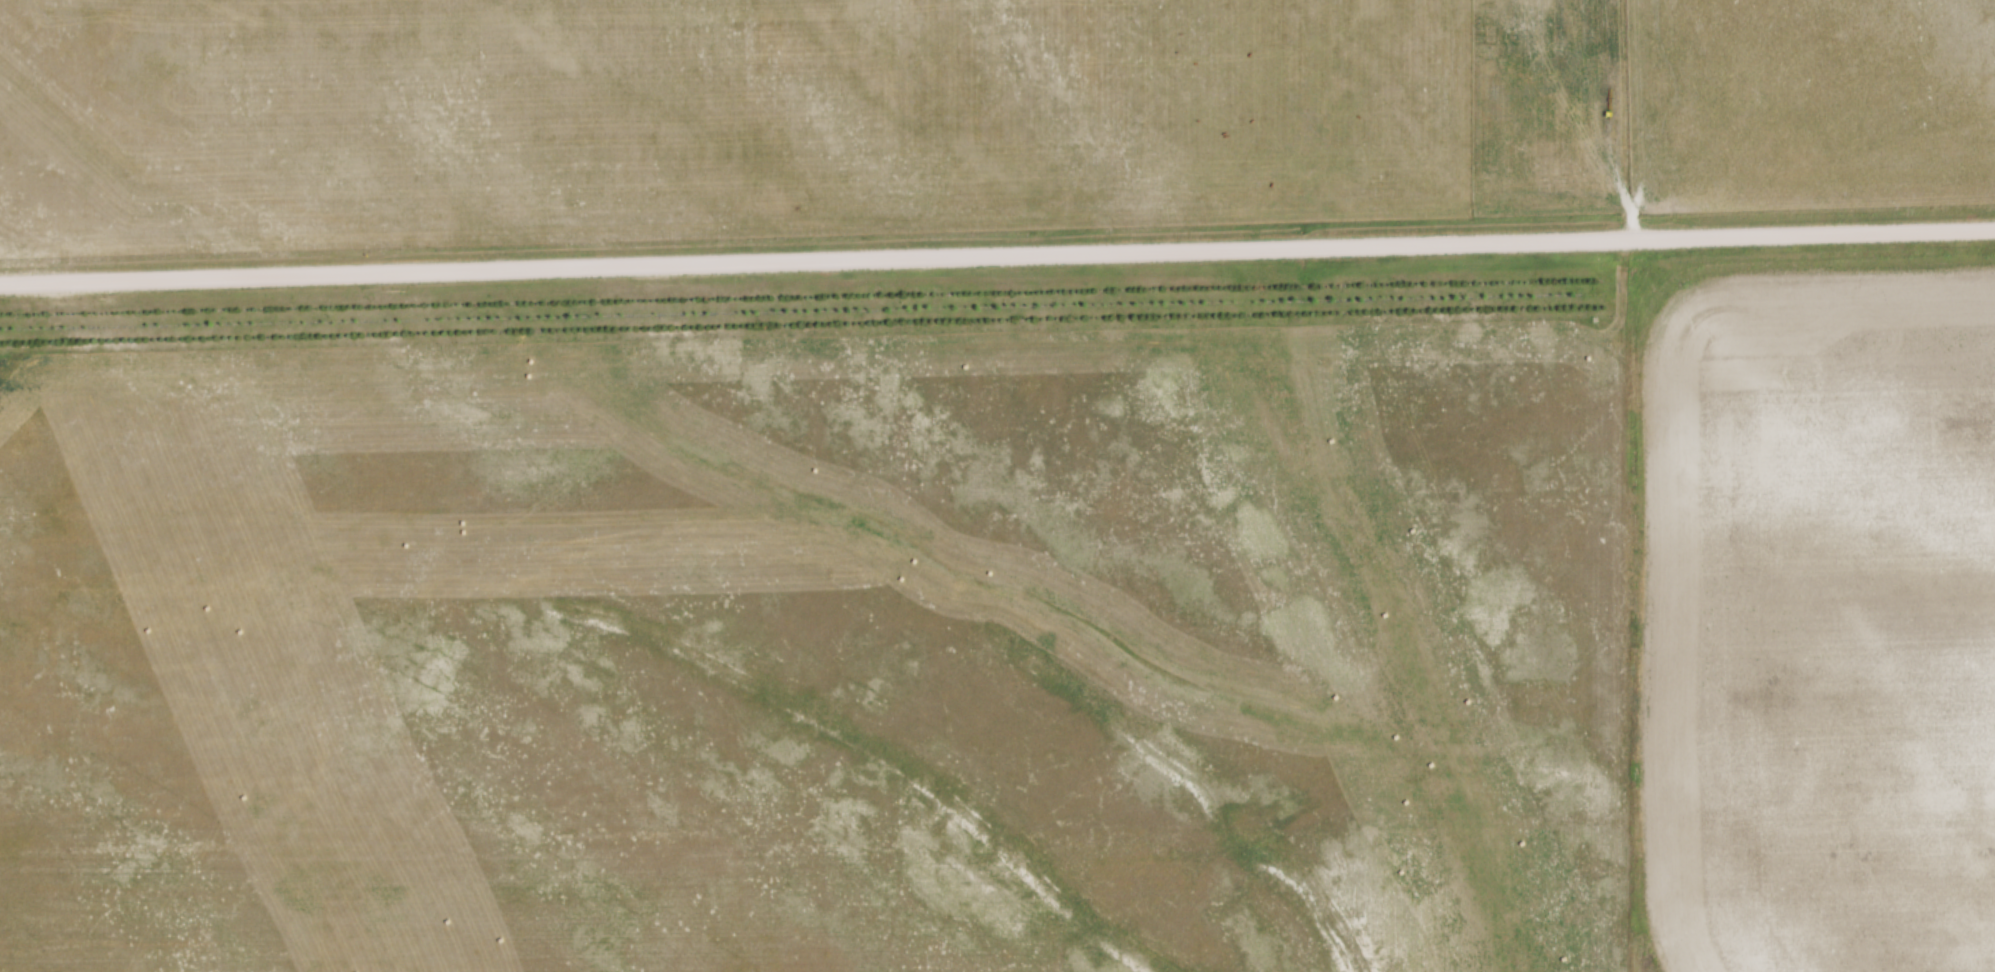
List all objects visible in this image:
road: (997, 257)

